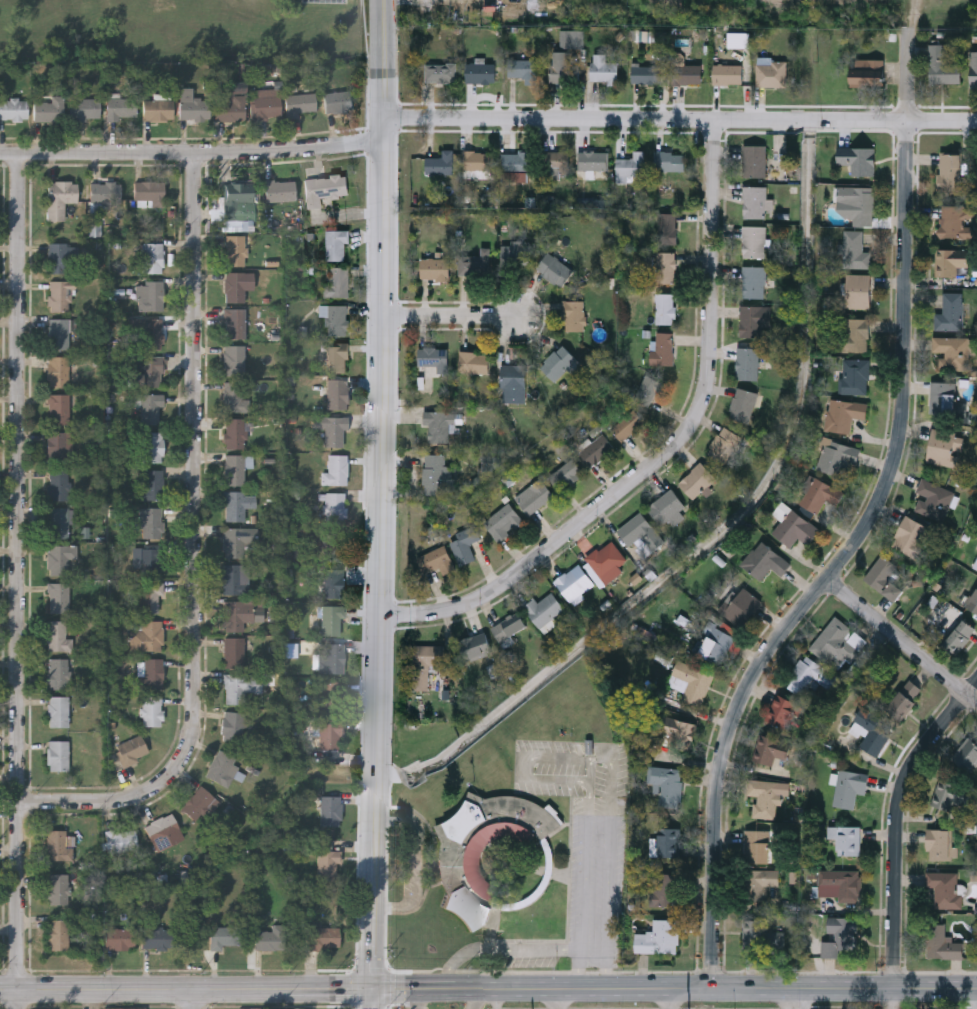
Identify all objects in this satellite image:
park: (185, 30)
building: (574, 38)
building: (941, 65)
building: (563, 68)
building: (523, 69)
building: (603, 69)
building: (974, 69)
building: (686, 71)
building: (441, 72)
building: (867, 72)
building: (480, 73)
building: (726, 73)
building: (771, 73)
building: (646, 74)
road: (906, 75)
building: (339, 102)
building: (299, 104)
building: (266, 107)
building: (121, 108)
building: (195, 108)
building: (231, 108)
building: (13, 109)
building: (85, 109)
building: (48, 110)
building: (157, 110)
road: (680, 120)
road: (191, 154)
building: (857, 159)
building: (478, 160)
building: (593, 160)
building: (670, 160)
building: (754, 160)
building: (556, 162)
building: (441, 163)
building: (514, 163)
building: (631, 164)
building: (949, 172)
building: (324, 188)
building: (280, 191)
building: (149, 194)
building: (103, 196)
building: (59, 199)
building: (237, 201)
building: (754, 202)
building: (858, 203)
building: (956, 221)
building: (667, 228)
building: (754, 242)
building: (336, 245)
building: (235, 251)
building: (855, 251)
building: (520, 253)
building: (57, 259)
building: (153, 259)
building: (949, 262)
building: (475, 263)
building: (665, 267)
building: (435, 269)
building: (554, 269)
building: (754, 281)
building: (337, 283)
building: (234, 287)
building: (856, 290)
building: (61, 296)
building: (151, 296)
building: (664, 308)
building: (950, 312)
road: (449, 314)
building: (574, 315)
building: (754, 319)
building: (337, 320)
building: (234, 324)
building: (59, 333)
building: (152, 334)
building: (856, 335)
building: (664, 348)
building: (950, 352)
building: (336, 357)
building: (433, 358)
building: (234, 360)
building: (474, 362)
building: (559, 363)
building: (748, 363)
building: (57, 372)
building: (148, 373)
building: (855, 376)
building: (513, 382)
building: (647, 390)
building: (337, 394)
building: (233, 397)
building: (943, 397)
building: (743, 404)
building: (149, 407)
building: (59, 409)
building: (844, 414)
building: (437, 425)
building: (330, 430)
building: (234, 433)
building: (724, 444)
building: (60, 447)
building: (153, 447)
building: (944, 447)
building: (596, 449)
road: (670, 453)
building: (838, 456)
building: (235, 469)
building: (335, 471)
building: (437, 474)
building: (565, 475)
building: (696, 480)
building: (58, 485)
building: (150, 485)
building: (822, 493)
building: (536, 498)
building: (933, 498)
road: (380, 504)
building: (237, 505)
building: (666, 507)
building: (334, 508)
building: (503, 521)
building: (58, 523)
building: (151, 523)
building: (795, 528)
building: (640, 534)
building: (910, 536)
building: (239, 541)
building: (465, 544)
road: (196, 546)
building: (60, 558)
building: (436, 560)
building: (607, 560)
building: (150, 561)
building: (764, 561)
road: (835, 562)
building: (335, 568)
building: (884, 576)
building: (235, 579)
road: (19, 581)
building: (575, 582)
building: (150, 597)
building: (59, 598)
building: (973, 600)
building: (741, 605)
building: (544, 609)
building: (241, 613)
building: (332, 619)
building: (960, 634)
building: (147, 636)
building: (58, 637)
road: (899, 641)
building: (715, 642)
building: (837, 642)
building: (475, 645)
building: (234, 652)
building: (331, 658)
building: (425, 662)
building: (58, 673)
building: (153, 673)
building: (810, 675)
building: (692, 681)
building: (240, 687)
building: (905, 698)
building: (151, 710)
building: (781, 710)
building: (58, 712)
building: (338, 717)
building: (233, 727)
building: (871, 730)
building: (676, 732)
building: (770, 748)
building: (131, 750)
road: (538, 754)
building: (966, 754)
building: (57, 756)
building: (223, 769)
building: (666, 783)
building: (849, 787)
building: (951, 794)
building: (765, 797)
building: (198, 804)
building: (330, 811)
road: (895, 817)
building: (162, 828)
parking lot: (586, 836)
building: (846, 838)
building: (121, 841)
building: (665, 843)
building: (940, 843)
building: (757, 845)
building: (59, 846)
building: (458, 863)
road: (420, 864)
building: (328, 867)
building: (759, 883)
building: (839, 885)
building: (664, 888)
building: (945, 888)
building: (57, 889)
building: (58, 934)
building: (761, 935)
building: (841, 936)
building: (225, 937)
building: (658, 937)
building: (157, 938)
building: (325, 938)
building: (270, 939)
building: (120, 940)
building: (942, 942)
road: (503, 949)
road: (933, 985)
road: (677, 986)
road: (416, 988)
traffic signals: (369, 989)
road: (329, 990)
road: (145, 991)
road: (669, 997)
road: (805, 997)
road: (890, 997)
road: (976, 997)
road: (416, 998)
road: (478, 998)
road: (557, 998)
road: (196, 1000)

